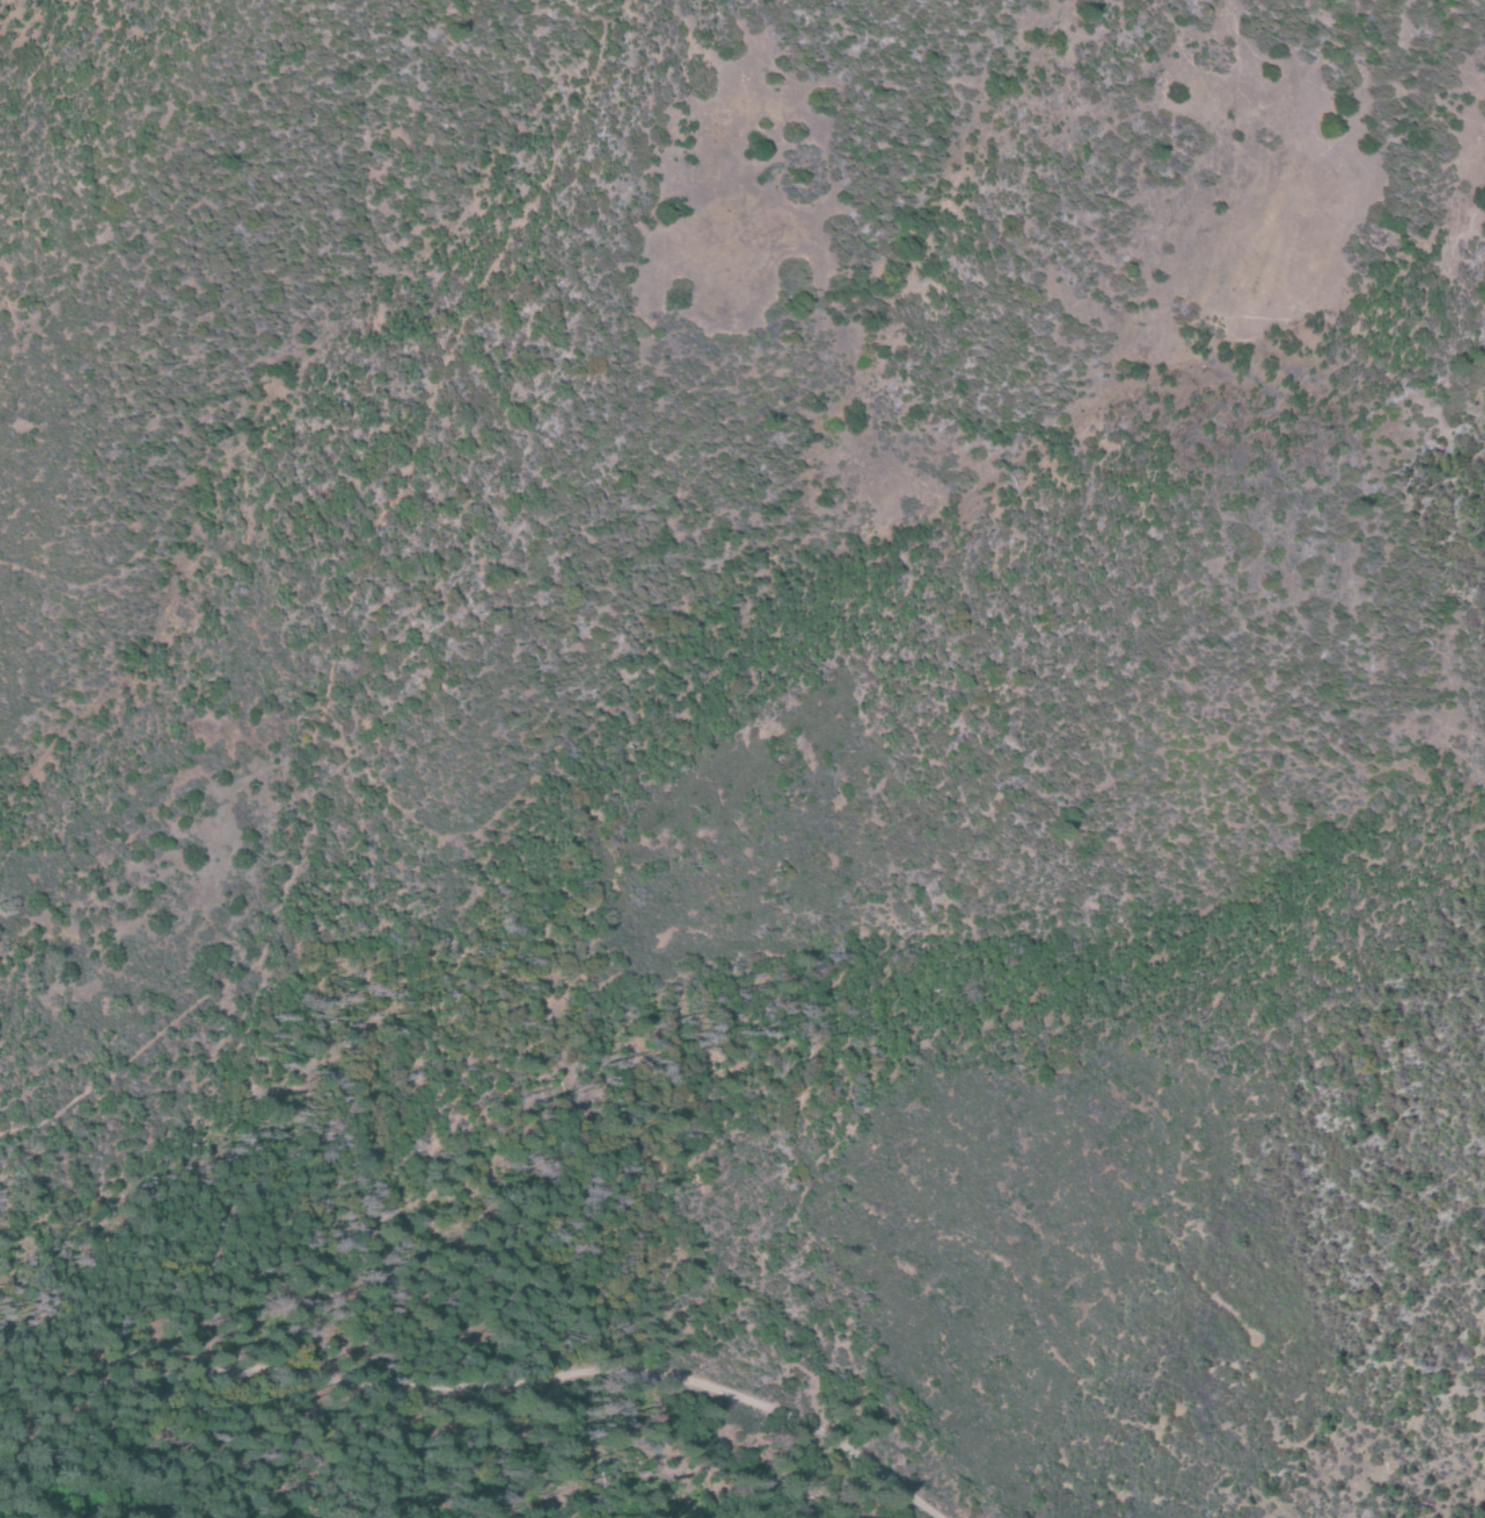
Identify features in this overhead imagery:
road: (363, 1206)
road: (482, 1363)

